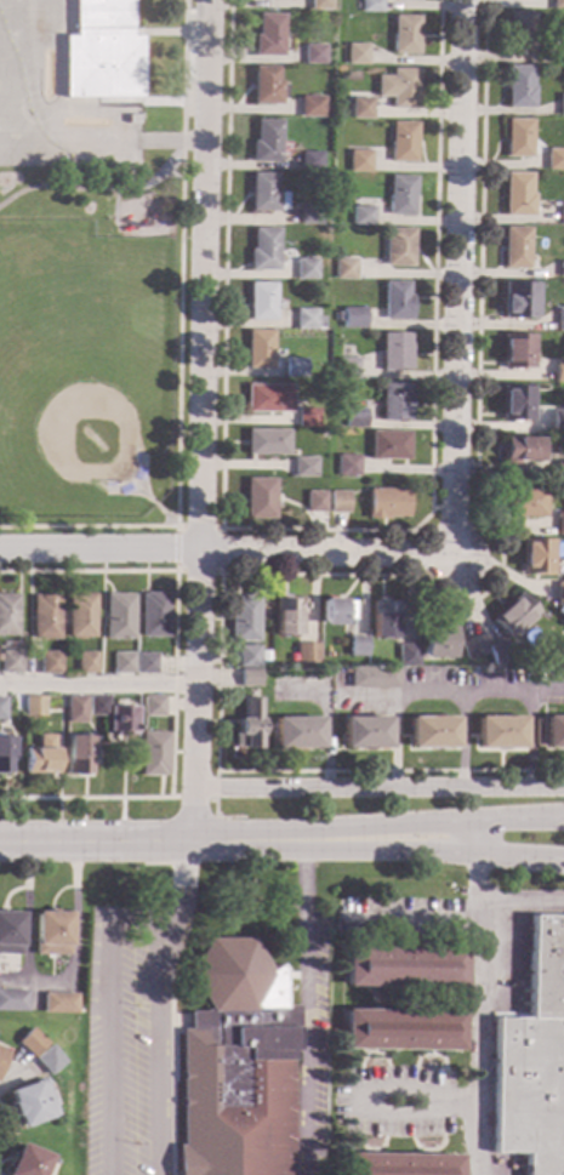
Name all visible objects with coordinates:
building: (409, 0)
building: (318, 4)
building: (557, 5)
building: (370, 6)
building: (519, 32)
road: (156, 33)
building: (404, 35)
building: (267, 36)
building: (102, 52)
building: (562, 52)
building: (312, 55)
building: (355, 55)
building: (264, 85)
building: (518, 87)
building: (398, 89)
road: (161, 102)
building: (560, 105)
building: (309, 107)
building: (360, 108)
road: (141, 110)
building: (517, 138)
road: (173, 141)
building: (266, 142)
building: (401, 142)
building: (554, 160)
building: (309, 161)
building: (359, 161)
road: (96, 189)
building: (266, 194)
building: (517, 195)
building: (401, 196)
road: (114, 199)
building: (562, 213)
building: (309, 215)
building: (363, 216)
building: (342, 218)
building: (398, 247)
building: (514, 249)
building: (263, 250)
building: (304, 269)
building: (344, 269)
building: (562, 269)
road: (458, 276)
building: (518, 300)
building: (261, 301)
building: (397, 301)
building: (337, 316)
building: (354, 318)
building: (307, 320)
building: (559, 320)
park: (91, 344)
road: (177, 349)
building: (258, 349)
building: (395, 352)
building: (515, 352)
park: (13, 357)
building: (294, 367)
building: (347, 369)
building: (559, 371)
park: (72, 387)
building: (267, 399)
building: (394, 403)
building: (515, 404)
building: (306, 417)
building: (354, 418)
road: (200, 420)
building: (557, 422)
building: (267, 443)
building: (388, 445)
building: (519, 450)
building: (348, 466)
building: (303, 467)
building: (559, 473)
road: (139, 490)
building: (258, 498)
building: (314, 502)
building: (337, 502)
building: (386, 503)
building: (522, 503)
road: (156, 508)
road: (451, 508)
building: (560, 525)
road: (320, 530)
road: (227, 552)
building: (534, 557)
road: (218, 572)
road: (387, 576)
building: (559, 594)
building: (336, 611)
building: (7, 615)
building: (153, 615)
building: (80, 616)
building: (118, 616)
building: (286, 616)
building: (513, 616)
building: (45, 617)
building: (383, 617)
building: (243, 620)
building: (435, 641)
building: (8, 645)
building: (357, 646)
building: (472, 649)
building: (497, 652)
building: (306, 655)
building: (406, 655)
building: (246, 657)
building: (11, 662)
building: (50, 663)
building: (86, 663)
building: (123, 663)
building: (144, 663)
building: (463, 672)
building: (472, 674)
building: (249, 678)
building: (372, 678)
road: (172, 681)
road: (98, 688)
road: (437, 696)
building: (275, 698)
building: (34, 706)
building: (153, 706)
building: (97, 707)
building: (2, 708)
building: (75, 711)
building: (121, 721)
building: (249, 726)
building: (432, 732)
building: (500, 732)
building: (554, 732)
building: (297, 734)
building: (365, 734)
road: (463, 740)
road: (531, 740)
building: (155, 754)
building: (5, 755)
building: (79, 755)
building: (42, 758)
road: (380, 787)
road: (205, 798)
road: (221, 817)
road: (380, 828)
road: (474, 837)
road: (97, 842)
road: (335, 846)
road: (519, 854)
road: (183, 888)
road: (520, 902)
road: (139, 924)
road: (417, 924)
building: (8, 931)
building: (52, 932)
road: (375, 943)
road: (429, 943)
road: (376, 945)
road: (429, 946)
building: (403, 965)
road: (49, 982)
road: (375, 996)
road: (429, 997)
building: (13, 998)
road: (434, 999)
building: (59, 1002)
road: (300, 1010)
road: (479, 1013)
building: (400, 1027)
building: (30, 1042)
road: (109, 1049)
road: (374, 1049)
building: (0, 1050)
road: (152, 1050)
road: (427, 1051)
building: (49, 1059)
building: (535, 1060)
road: (169, 1062)
building: (234, 1067)
road: (412, 1078)
road: (440, 1083)
road: (377, 1090)
building: (30, 1101)
road: (440, 1118)
road: (360, 1122)
road: (394, 1124)
road: (371, 1151)
road: (425, 1152)
building: (27, 1162)
building: (397, 1164)

